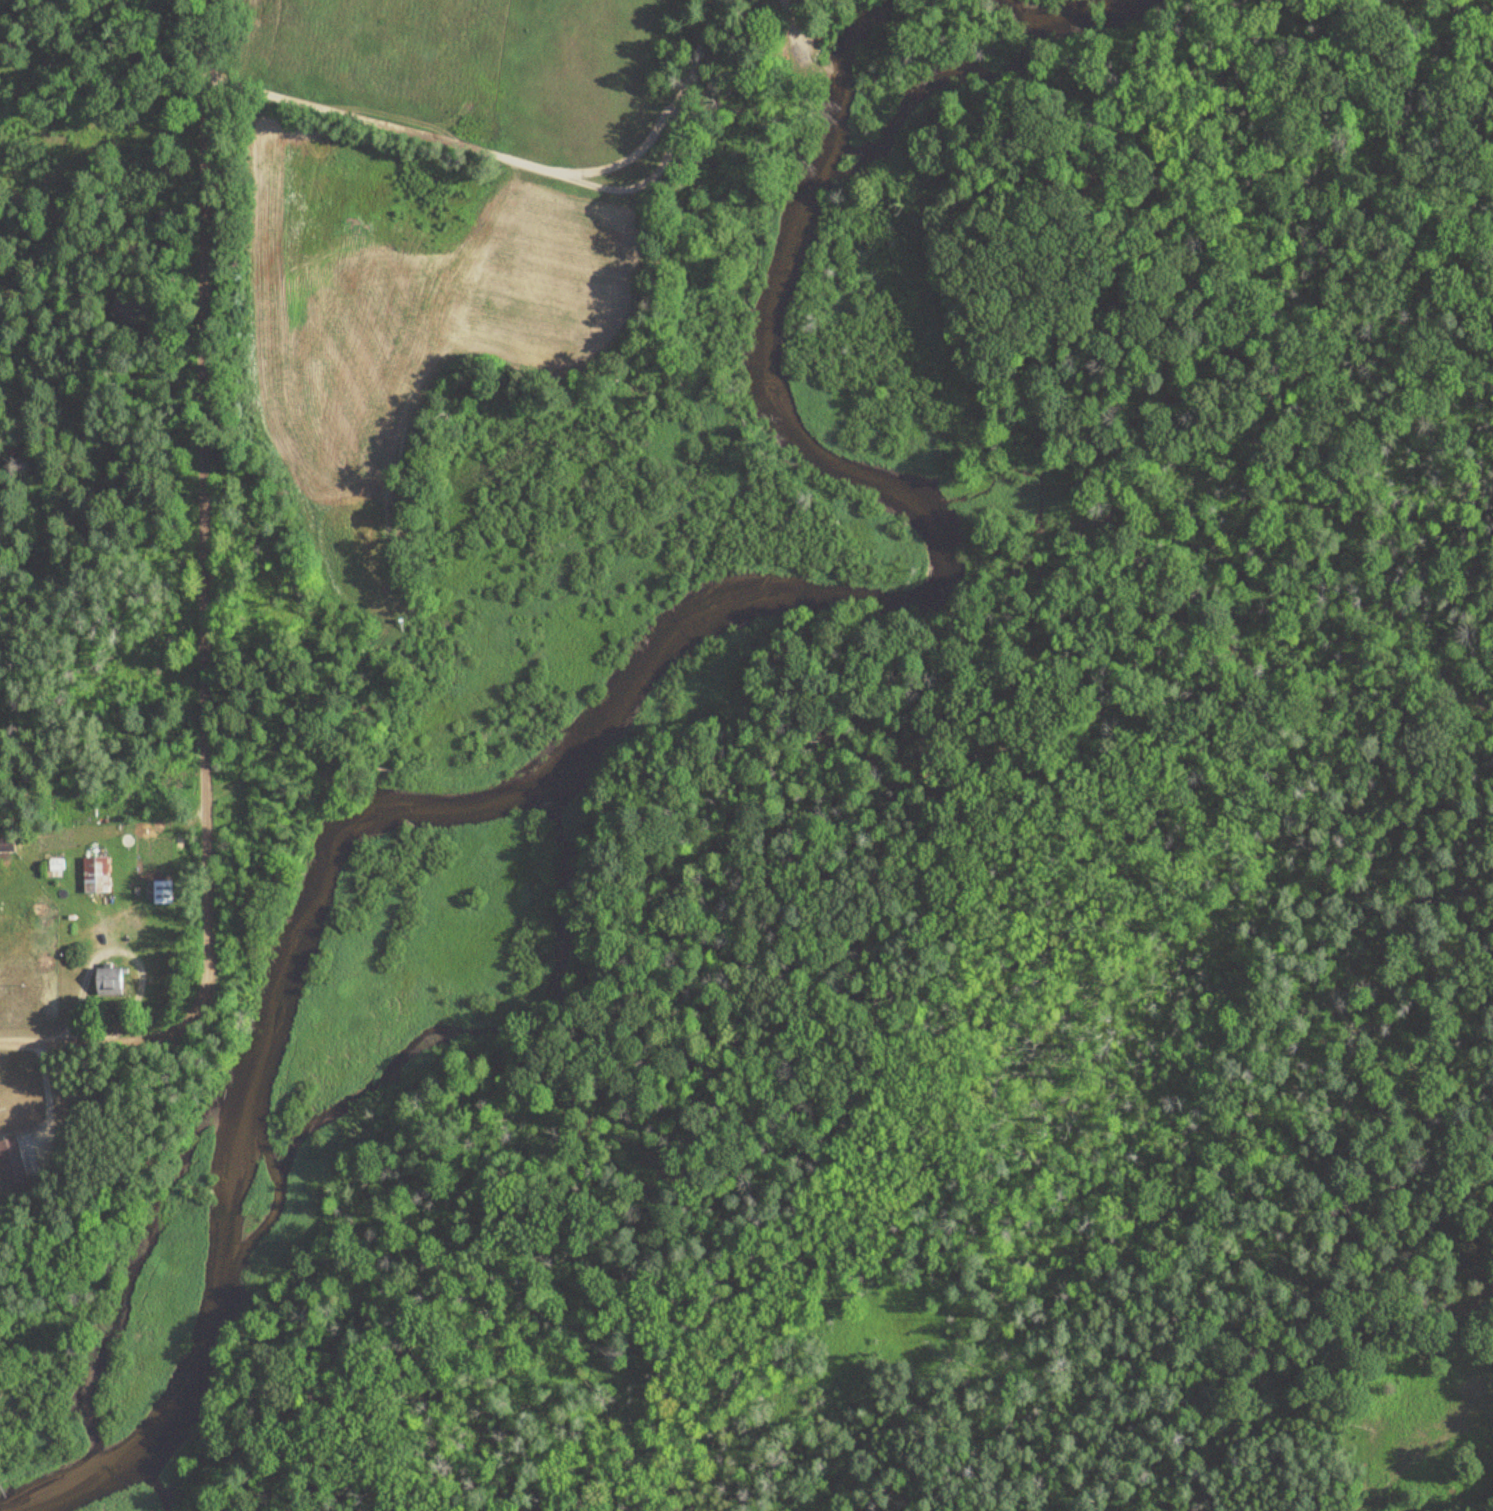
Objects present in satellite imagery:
road: (534, 164)
road: (201, 517)
river: (675, 651)
building: (6, 844)
building: (94, 875)
building: (161, 892)
building: (109, 981)
road: (91, 1040)
road: (46, 1095)
building: (11, 1162)

